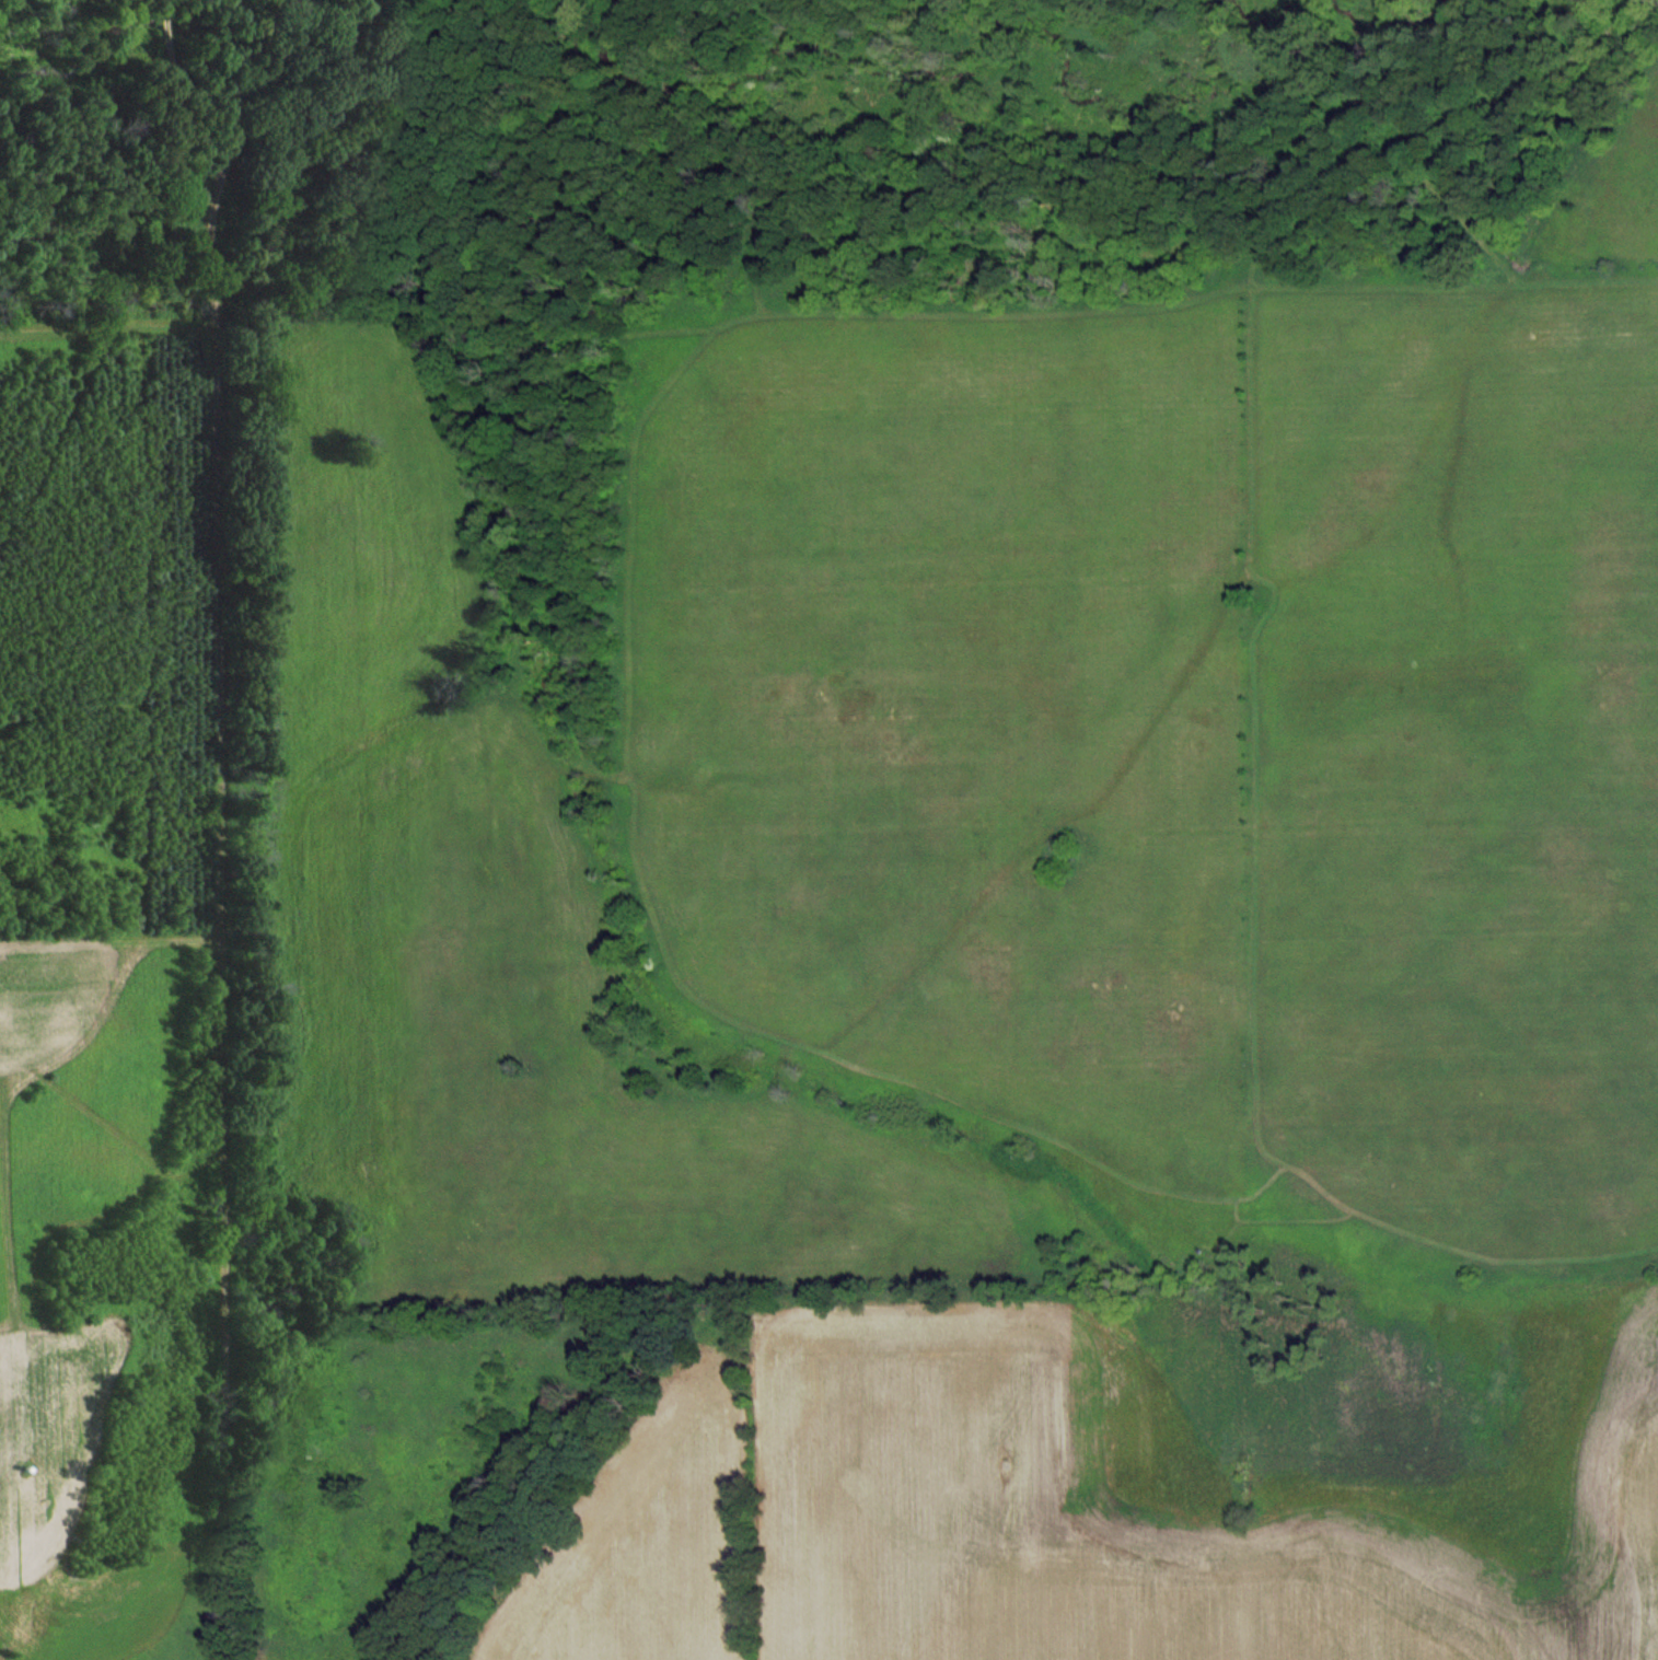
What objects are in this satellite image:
road: (222, 822)

